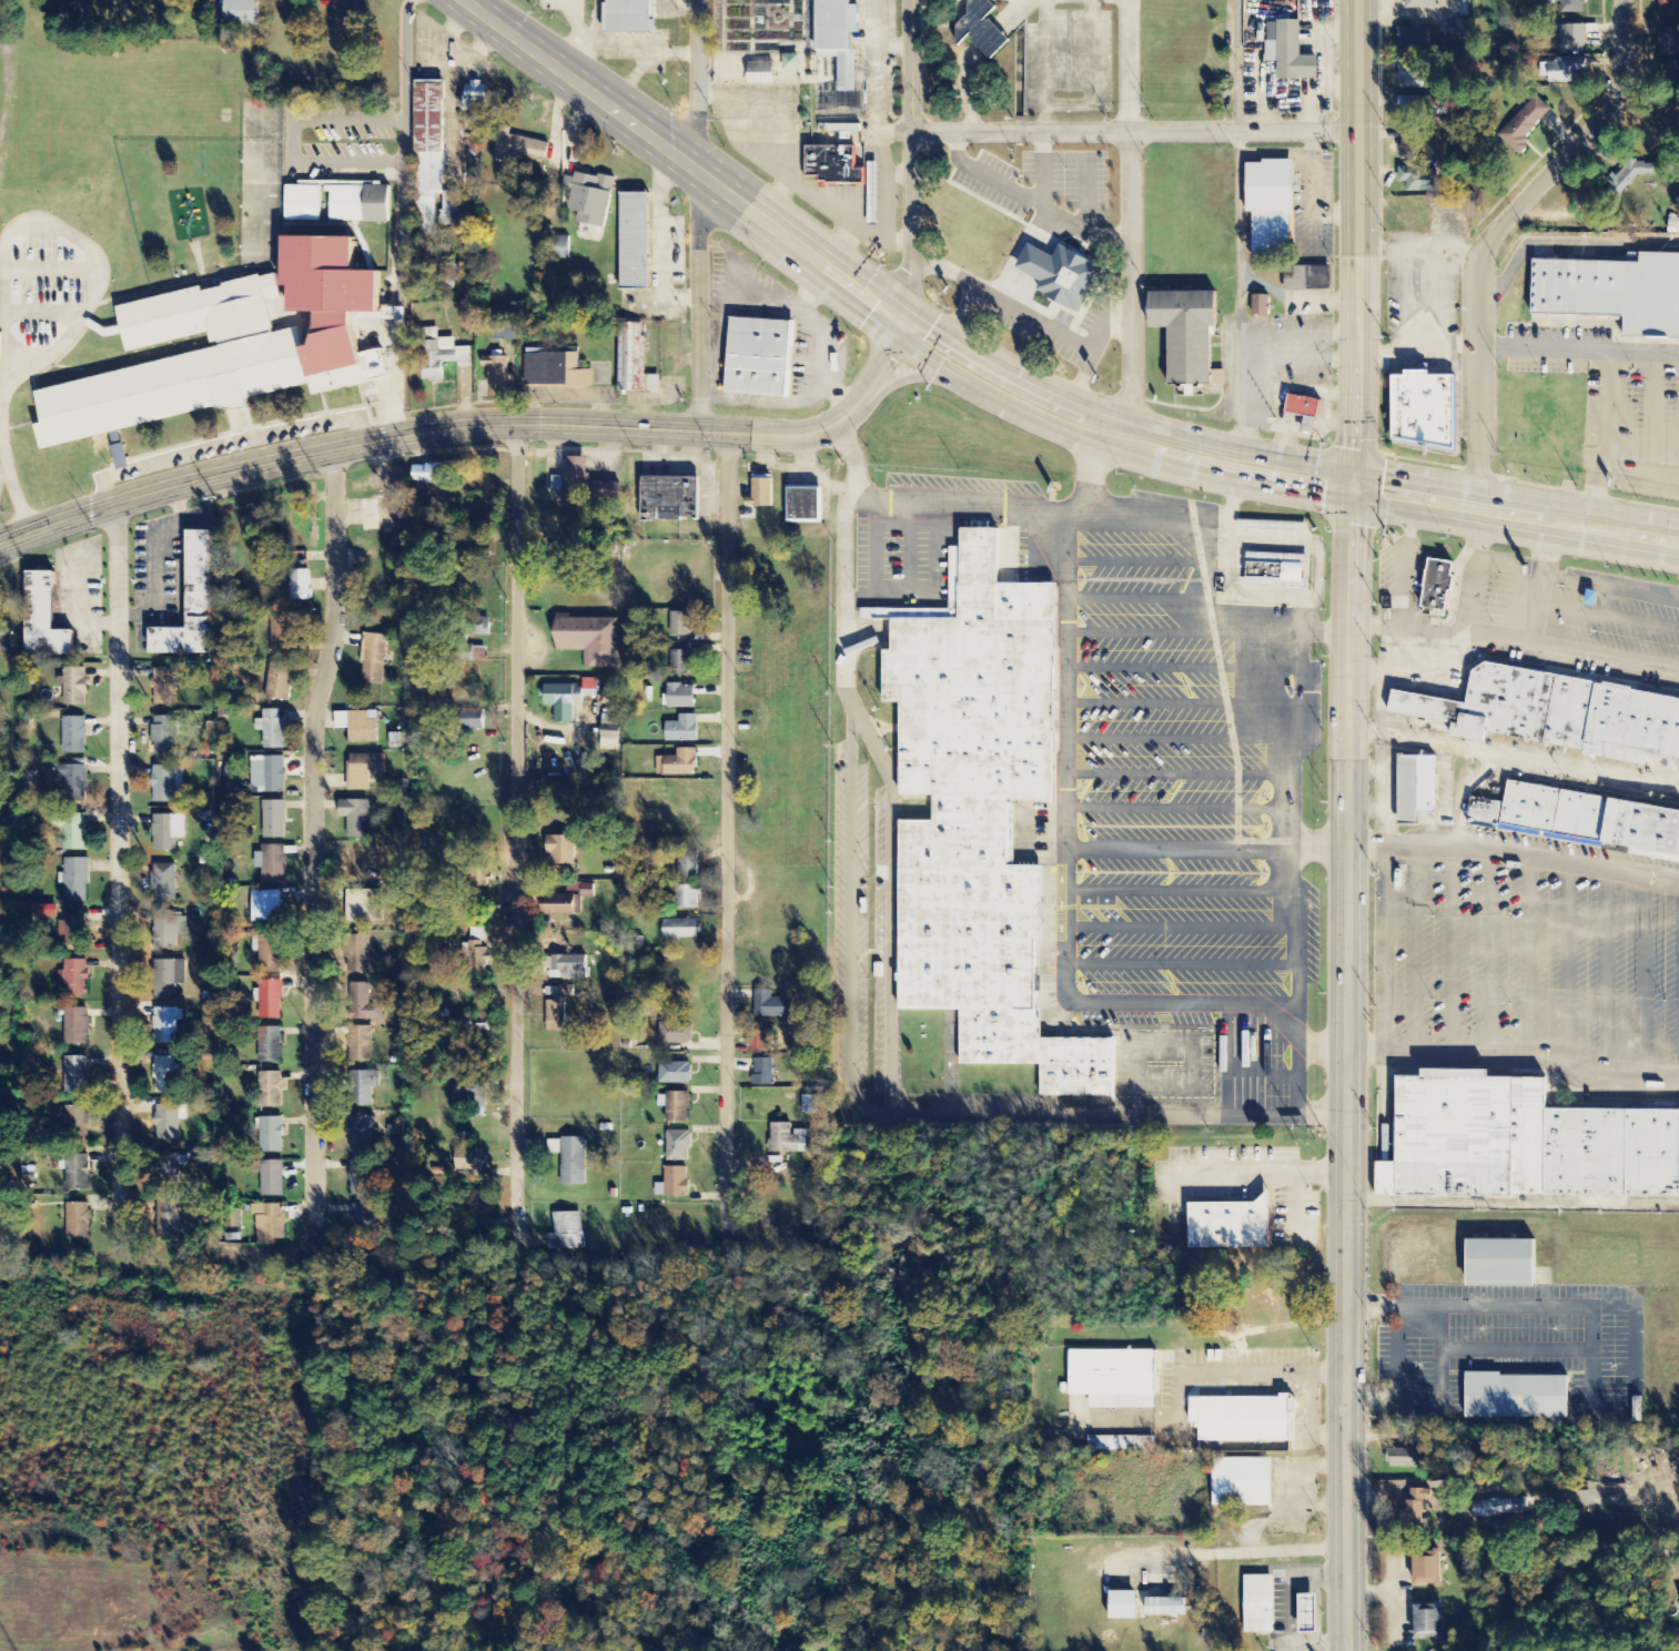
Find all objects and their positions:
building: (1551, 0)
building: (1422, 4)
building: (1571, 7)
building: (1670, 8)
building: (243, 13)
building: (631, 18)
building: (983, 29)
building: (1572, 39)
building: (1416, 41)
building: (1669, 43)
building: (1289, 52)
building: (840, 65)
building: (1567, 71)
building: (1410, 73)
building: (476, 98)
building: (1412, 105)
building: (1526, 123)
road: (1134, 130)
road: (290, 143)
building: (519, 148)
building: (1410, 149)
building: (432, 159)
road: (910, 159)
building: (835, 166)
building: (1631, 174)
building: (1419, 179)
building: (590, 197)
building: (303, 203)
building: (360, 204)
building: (873, 205)
building: (1267, 206)
road: (697, 214)
road: (401, 216)
road: (1127, 219)
road: (1496, 232)
building: (630, 240)
road: (1358, 244)
building: (563, 247)
road: (94, 253)
building: (448, 272)
road: (51, 274)
building: (1304, 276)
building: (1064, 277)
building: (1611, 292)
building: (1262, 305)
traffic signals: (887, 312)
road: (43, 313)
traffic signals: (907, 327)
building: (506, 332)
building: (1184, 334)
building: (230, 350)
road: (29, 351)
building: (439, 355)
building: (757, 356)
building: (631, 359)
building: (496, 372)
road: (937, 374)
road: (1015, 394)
building: (1302, 407)
building: (1420, 408)
road: (471, 425)
road: (225, 443)
building: (432, 475)
building: (574, 477)
road: (12, 484)
traffic signals: (1357, 490)
building: (761, 494)
building: (672, 499)
building: (805, 506)
road: (1120, 517)
road: (1213, 526)
building: (1274, 526)
road: (874, 551)
road: (909, 553)
building: (566, 561)
road: (1134, 565)
road: (1405, 565)
building: (1274, 568)
building: (195, 573)
road: (1539, 581)
building: (1449, 585)
building: (301, 586)
road: (1610, 590)
road: (933, 596)
road: (1281, 599)
road: (1137, 600)
building: (40, 615)
road: (1301, 616)
road: (1607, 617)
building: (681, 625)
building: (485, 627)
road: (1140, 632)
building: (176, 636)
building: (283, 636)
building: (590, 637)
road: (1517, 642)
building: (374, 655)
building: (680, 662)
road: (1183, 669)
building: (280, 682)
building: (74, 687)
building: (165, 687)
building: (681, 697)
building: (569, 699)
road: (1182, 707)
building: (1552, 711)
building: (474, 720)
building: (358, 726)
building: (273, 729)
building: (684, 730)
building: (610, 732)
building: (166, 735)
building: (74, 736)
building: (395, 741)
road: (1181, 741)
road: (1516, 758)
building: (678, 764)
building: (1678, 764)
building: (364, 770)
road: (1181, 773)
building: (275, 776)
building: (71, 781)
building: (166, 783)
building: (1414, 784)
road: (1181, 809)
building: (977, 812)
building: (1578, 817)
building: (356, 818)
building: (274, 820)
road: (517, 828)
building: (71, 830)
building: (168, 832)
road: (726, 833)
road: (314, 838)
road: (1373, 850)
road: (118, 864)
building: (272, 864)
building: (688, 864)
building: (77, 882)
building: (164, 883)
road: (1181, 892)
building: (690, 898)
road: (889, 902)
building: (364, 906)
building: (266, 908)
building: (566, 908)
building: (47, 912)
building: (169, 929)
building: (681, 930)
road: (1182, 930)
building: (77, 931)
building: (477, 935)
building: (269, 953)
road: (1414, 953)
road: (1453, 955)
road: (1488, 960)
building: (479, 961)
road: (1530, 965)
road: (1181, 966)
building: (572, 968)
road: (1565, 970)
road: (1606, 975)
building: (77, 979)
building: (169, 979)
road: (1646, 981)
building: (566, 992)
building: (271, 1001)
building: (364, 1005)
building: (770, 1006)
road: (1090, 1007)
building: (556, 1013)
building: (475, 1024)
building: (166, 1026)
building: (78, 1027)
building: (676, 1034)
road: (1177, 1041)
building: (760, 1042)
building: (362, 1044)
building: (270, 1045)
road: (1224, 1064)
road: (1348, 1070)
building: (765, 1073)
building: (676, 1074)
road: (1260, 1074)
building: (77, 1075)
building: (168, 1075)
building: (364, 1088)
building: (272, 1091)
building: (467, 1091)
building: (809, 1105)
building: (676, 1107)
building: (78, 1118)
road: (1000, 1120)
building: (169, 1122)
building: (362, 1134)
building: (270, 1136)
building: (1470, 1138)
building: (787, 1140)
building: (678, 1147)
building: (1614, 1155)
building: (468, 1156)
building: (574, 1162)
building: (168, 1167)
building: (78, 1174)
building: (362, 1178)
building: (272, 1179)
building: (675, 1184)
building: (478, 1202)
building: (170, 1220)
building: (78, 1222)
building: (358, 1222)
building: (1225, 1223)
building: (270, 1225)
building: (564, 1233)
building: (1497, 1262)
building: (1111, 1376)
building: (1514, 1394)
building: (1243, 1417)
building: (1405, 1459)
building: (1240, 1480)
building: (1416, 1508)
building: (1500, 1508)
building: (1429, 1569)
building: (1255, 1602)
building: (1125, 1607)
building: (1167, 1609)
building: (1304, 1612)
building: (1432, 1622)

